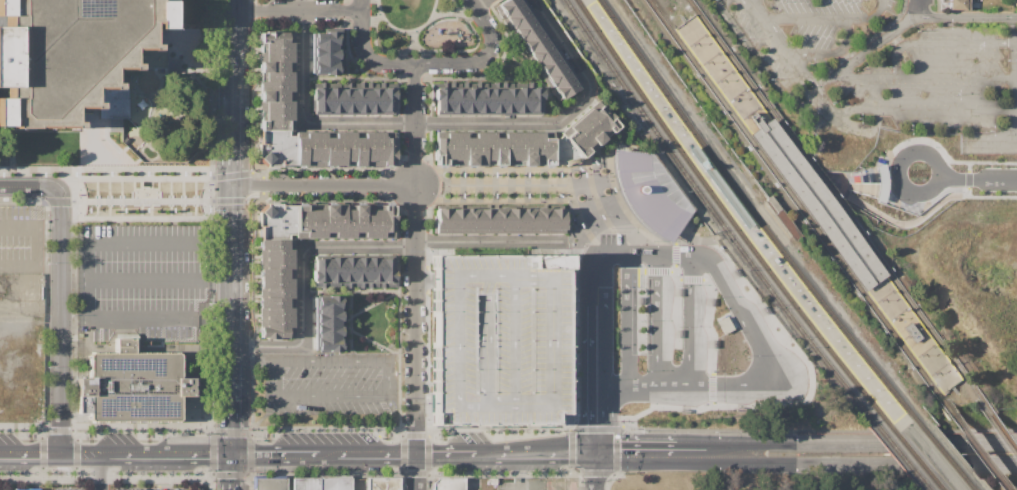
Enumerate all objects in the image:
road: (479, 3)
building: (959, 5)
railway: (693, 6)
building: (508, 7)
road: (918, 7)
road: (297, 9)
road: (966, 15)
railway: (658, 16)
road: (1015, 16)
building: (518, 17)
road: (827, 18)
building: (526, 29)
road: (1015, 33)
building: (328, 38)
building: (534, 41)
road: (941, 42)
road: (784, 49)
road: (831, 51)
building: (68, 53)
building: (326, 53)
building: (542, 53)
building: (276, 56)
road: (860, 56)
road: (233, 60)
road: (427, 63)
building: (550, 64)
building: (327, 67)
building: (557, 76)
road: (926, 78)
building: (565, 88)
building: (440, 97)
building: (456, 98)
building: (470, 98)
building: (483, 98)
building: (496, 98)
building: (508, 98)
building: (521, 98)
building: (320, 99)
building: (334, 99)
building: (347, 99)
building: (360, 99)
building: (373, 99)
building: (534, 99)
building: (388, 101)
building: (276, 105)
road: (918, 110)
road: (446, 123)
building: (591, 129)
road: (1014, 136)
road: (957, 139)
road: (93, 145)
building: (277, 148)
building: (335, 148)
building: (464, 148)
building: (311, 149)
building: (355, 149)
building: (379, 149)
building: (522, 149)
road: (892, 151)
road: (233, 152)
building: (564, 152)
road: (938, 164)
road: (611, 173)
road: (967, 174)
road: (978, 178)
building: (644, 179)
road: (600, 180)
building: (879, 183)
road: (142, 184)
road: (324, 185)
road: (502, 186)
road: (840, 186)
road: (28, 187)
road: (592, 190)
road: (569, 192)
road: (992, 196)
road: (619, 200)
building: (818, 204)
railway: (841, 207)
road: (601, 211)
road: (576, 213)
railway: (804, 214)
railway: (715, 216)
railway: (727, 216)
building: (658, 217)
railway: (755, 217)
building: (782, 217)
building: (320, 220)
building: (369, 220)
building: (443, 220)
building: (458, 220)
building: (472, 220)
building: (486, 220)
building: (500, 220)
building: (514, 220)
building: (528, 220)
building: (543, 220)
building: (557, 220)
building: (278, 221)
road: (904, 223)
road: (582, 224)
road: (662, 224)
parking lot: (20, 237)
road: (494, 242)
road: (36, 245)
road: (674, 247)
road: (602, 252)
road: (642, 252)
building: (277, 253)
road: (665, 253)
road: (681, 253)
road: (703, 255)
road: (89, 257)
road: (674, 257)
road: (415, 259)
road: (654, 269)
building: (320, 271)
building: (334, 271)
road: (573, 271)
building: (347, 272)
building: (360, 272)
building: (372, 272)
building: (387, 272)
road: (304, 275)
road: (146, 276)
road: (569, 276)
road: (584, 276)
road: (690, 278)
parking lot: (147, 279)
road: (573, 281)
road: (234, 283)
building: (277, 283)
road: (657, 290)
building: (331, 303)
building: (330, 317)
road: (627, 317)
building: (276, 318)
road: (688, 318)
road: (59, 323)
road: (603, 328)
building: (330, 331)
building: (912, 332)
building: (498, 339)
parking lot: (498, 339)
building: (330, 344)
road: (656, 355)
road: (253, 357)
road: (332, 357)
road: (768, 357)
road: (572, 358)
road: (587, 364)
road: (272, 377)
railway: (961, 378)
road: (809, 380)
road: (616, 383)
road: (641, 383)
road: (672, 383)
road: (691, 383)
building: (132, 385)
road: (711, 387)
road: (352, 398)
railway: (942, 400)
road: (233, 418)
road: (605, 419)
railway: (1000, 425)
railway: (902, 429)
road: (594, 430)
road: (885, 442)
railway: (976, 448)
road: (617, 450)
road: (572, 451)
road: (30, 453)
road: (84, 454)
road: (170, 454)
traffic signals: (232, 454)
road: (275, 454)
road: (376, 454)
road: (446, 454)
road: (547, 454)
traffic signals: (594, 454)
road: (635, 454)
road: (693, 454)
road: (734, 454)
railway: (898, 454)
railway: (943, 454)
road: (328, 455)
road: (489, 455)
railway: (911, 455)
road: (886, 464)
road: (594, 471)
road: (98, 472)
road: (232, 472)
road: (417, 472)
road: (518, 472)
road: (595, 473)
building: (447, 483)
building: (270, 484)
building: (305, 484)
building: (335, 484)
building: (383, 484)
railway: (969, 485)
railway: (924, 486)
railway: (937, 486)
parking lot: (109, 487)
building: (26, 489)

